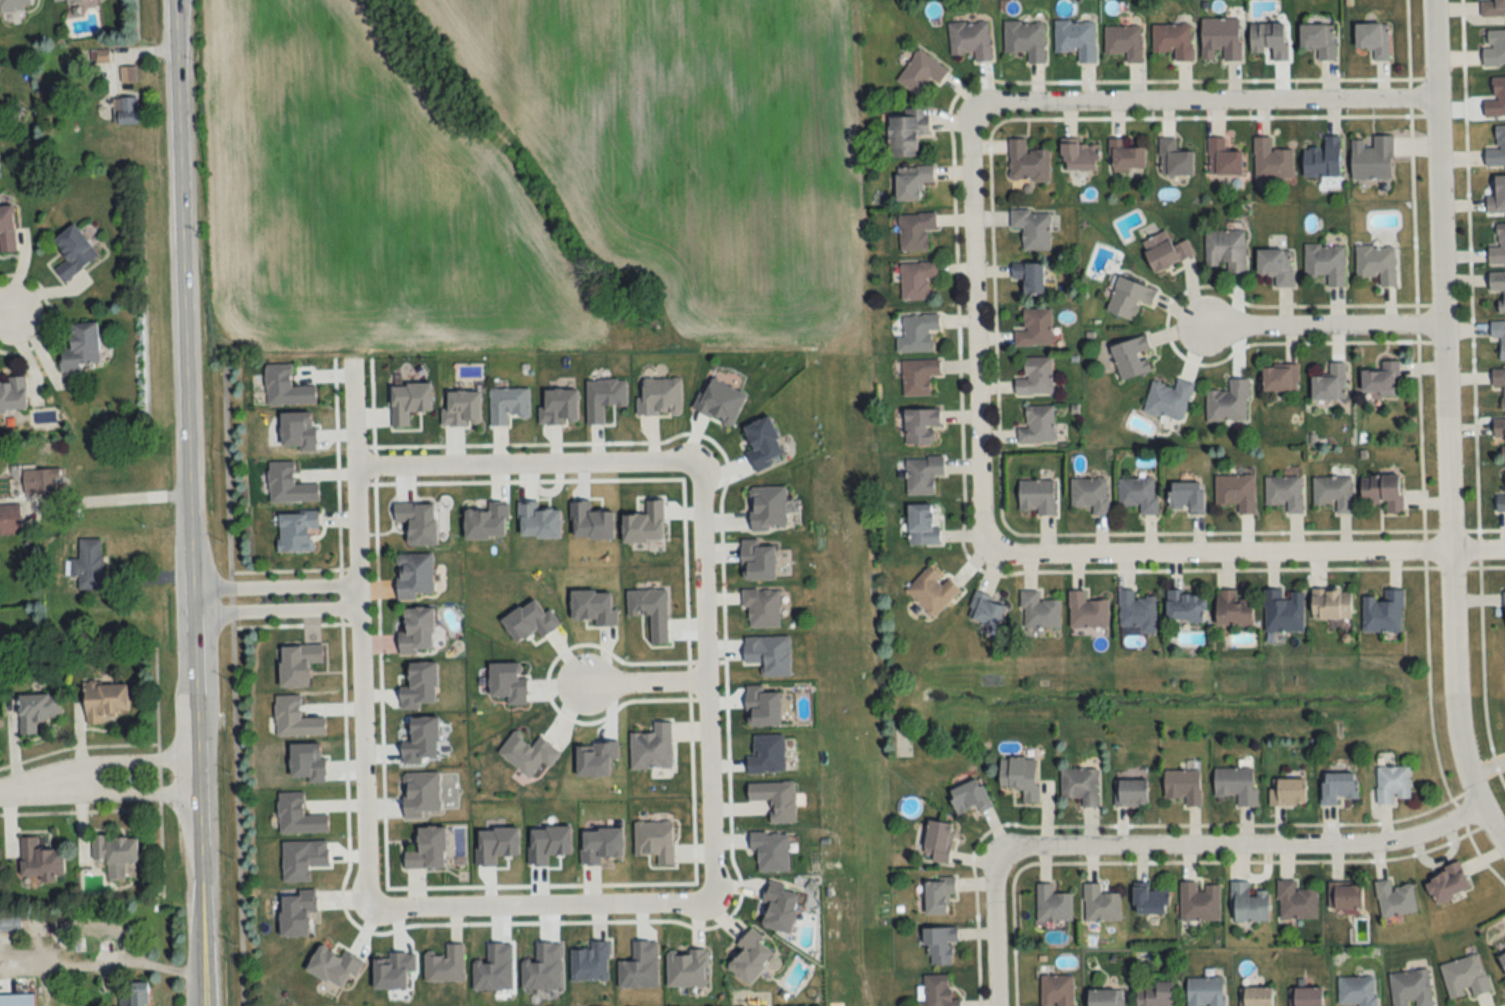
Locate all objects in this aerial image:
building: (60, 0)
building: (14, 4)
building: (1492, 8)
building: (1076, 38)
building: (971, 39)
building: (1025, 39)
building: (1220, 39)
building: (1269, 39)
building: (1319, 39)
building: (1373, 39)
building: (1173, 40)
building: (1124, 41)
building: (1493, 47)
building: (921, 72)
building: (127, 73)
building: (1496, 98)
road: (1206, 102)
building: (126, 110)
building: (907, 131)
building: (1497, 148)
building: (1126, 155)
building: (1079, 156)
building: (1174, 158)
building: (1223, 158)
building: (1372, 158)
building: (1323, 159)
building: (1271, 160)
building: (1028, 162)
building: (912, 181)
building: (1497, 196)
building: (1032, 228)
building: (6, 229)
building: (915, 230)
building: (1498, 247)
building: (1165, 250)
building: (1226, 250)
building: (73, 251)
building: (1325, 263)
building: (1377, 263)
building: (1276, 266)
building: (1029, 276)
building: (916, 279)
building: (1498, 287)
building: (1129, 297)
road: (8, 317)
building: (1034, 328)
road: (1313, 328)
building: (917, 333)
road: (976, 333)
building: (1499, 336)
building: (81, 347)
building: (1131, 357)
building: (918, 376)
building: (1035, 377)
building: (1280, 378)
building: (1381, 379)
building: (1330, 383)
building: (1500, 383)
building: (13, 395)
building: (660, 396)
building: (1168, 400)
building: (1228, 402)
building: (507, 405)
building: (921, 426)
building: (1037, 426)
road: (1445, 428)
building: (1500, 431)
road: (526, 463)
building: (922, 473)
building: (41, 480)
building: (1236, 491)
building: (1383, 491)
building: (1284, 492)
building: (1333, 492)
building: (1137, 493)
building: (1090, 494)
building: (1036, 496)
building: (1186, 496)
road: (116, 498)
road: (189, 503)
building: (767, 507)
building: (9, 518)
building: (922, 525)
building: (296, 531)
road: (1249, 554)
building: (88, 564)
building: (414, 575)
road: (273, 585)
building: (931, 590)
building: (1331, 603)
building: (1185, 606)
building: (762, 607)
building: (1233, 609)
building: (986, 610)
building: (1283, 610)
building: (1086, 611)
building: (1137, 611)
road: (274, 612)
building: (1038, 612)
building: (1383, 612)
building: (416, 631)
road: (357, 636)
road: (641, 681)
road: (707, 681)
building: (104, 701)
building: (37, 711)
building: (652, 748)
road: (108, 761)
building: (1020, 776)
building: (1393, 784)
building: (1080, 785)
building: (1236, 785)
building: (1183, 786)
building: (1338, 788)
road: (13, 790)
building: (1287, 792)
building: (1130, 793)
road: (111, 794)
building: (420, 794)
building: (970, 797)
building: (775, 799)
building: (654, 840)
building: (938, 841)
road: (1243, 847)
building: (428, 849)
building: (115, 853)
building: (40, 860)
building: (1447, 883)
building: (937, 894)
building: (1345, 895)
building: (1394, 899)
building: (1150, 900)
building: (1295, 901)
building: (1199, 902)
building: (1100, 903)
building: (1248, 903)
building: (1052, 904)
road: (541, 905)
building: (10, 924)
road: (994, 931)
building: (940, 945)
building: (750, 957)
building: (590, 962)
building: (445, 965)
building: (1464, 977)
building: (1410, 988)
building: (1056, 990)
building: (1356, 990)
building: (1205, 991)
building: (937, 992)
building: (1155, 994)
building: (131, 995)
building: (1305, 996)
building: (1256, 997)
building: (1105, 998)
building: (17, 1000)

